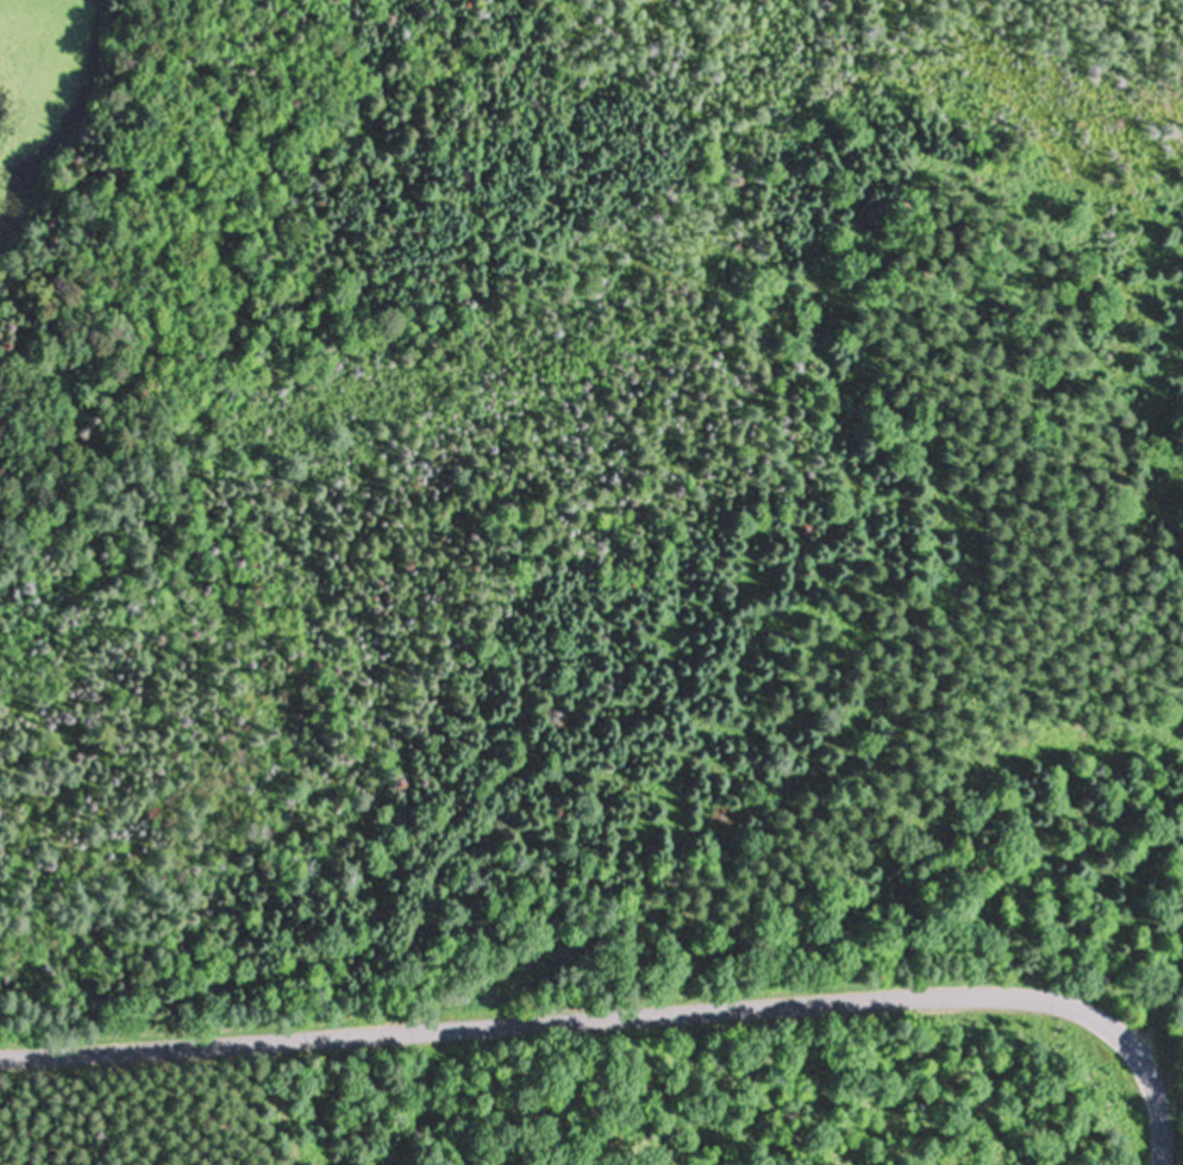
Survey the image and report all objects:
road: (637, 1017)

